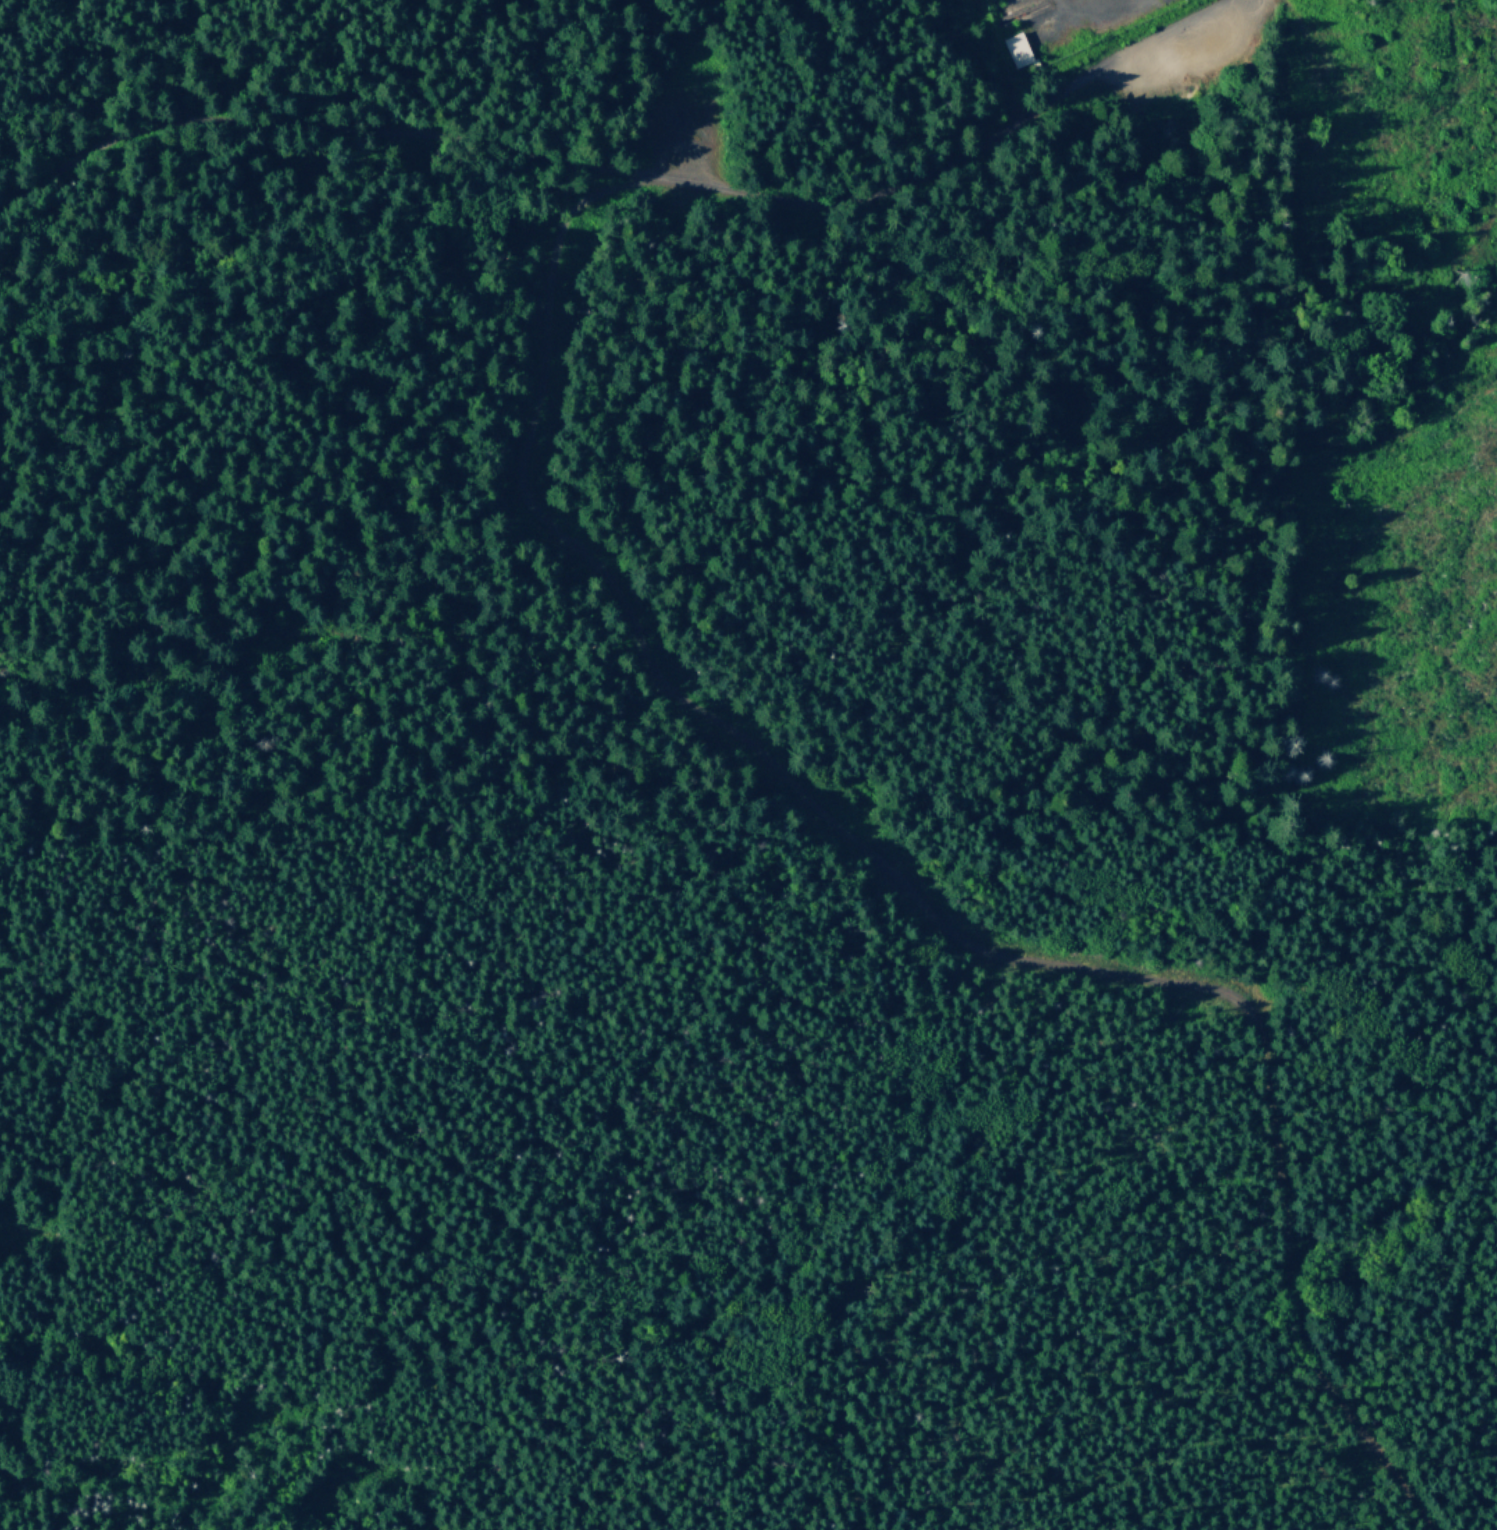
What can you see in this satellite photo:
building: (1016, 48)
road: (629, 183)

